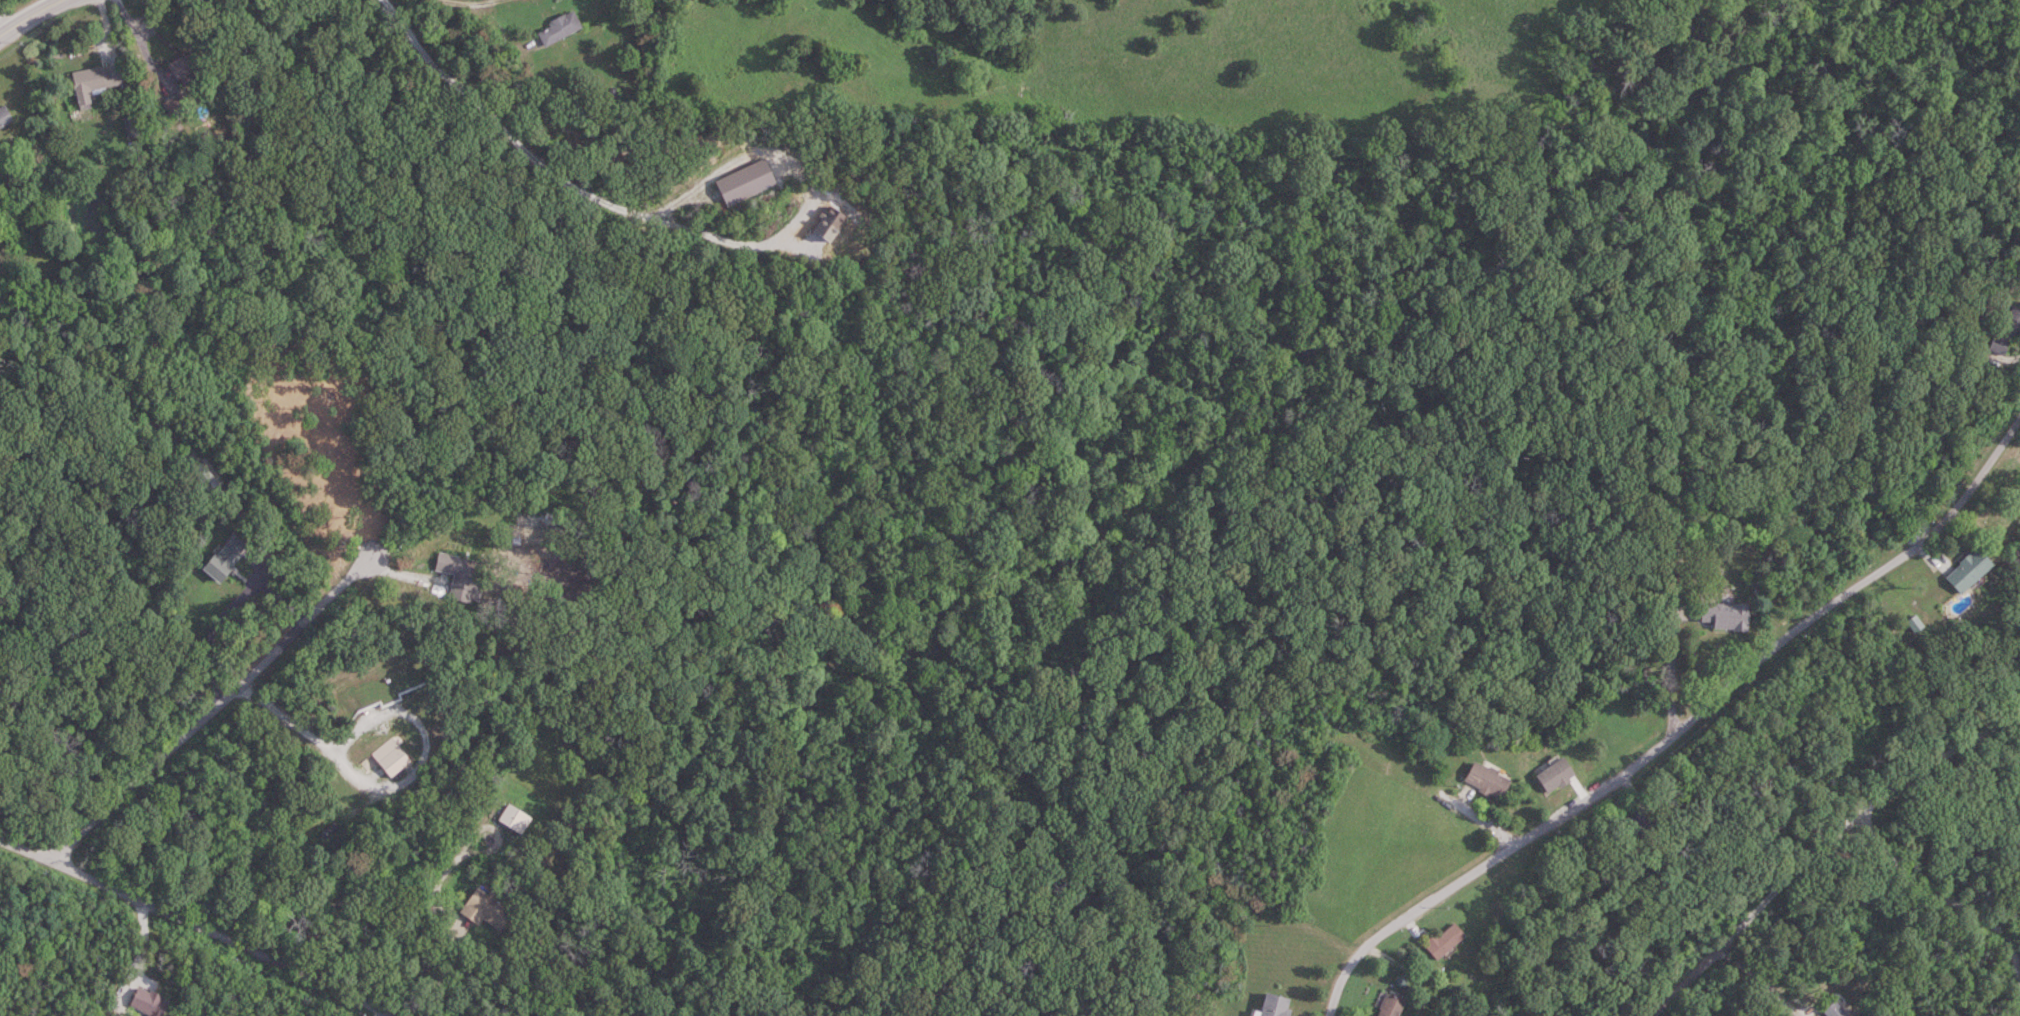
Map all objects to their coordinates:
road: (28, 15)
road: (106, 18)
road: (4, 20)
building: (560, 21)
road: (144, 40)
building: (186, 60)
building: (95, 77)
building: (174, 100)
building: (4, 110)
road: (505, 125)
building: (747, 178)
road: (806, 181)
building: (2004, 332)
road: (2016, 356)
building: (228, 557)
building: (1964, 571)
building: (462, 573)
road: (230, 601)
building: (1730, 616)
road: (1663, 627)
road: (1674, 650)
road: (214, 706)
road: (1684, 731)
building: (393, 756)
building: (1558, 774)
building: (1491, 779)
road: (390, 785)
building: (517, 817)
road: (1487, 820)
building: (1637, 822)
road: (497, 830)
road: (1825, 841)
road: (1939, 899)
building: (488, 909)
road: (194, 924)
road: (1302, 924)
road: (457, 933)
building: (1448, 939)
road: (143, 951)
road: (1410, 969)
road: (1753, 985)
building: (150, 1002)
building: (1277, 1005)
building: (1394, 1006)
building: (1838, 1009)

